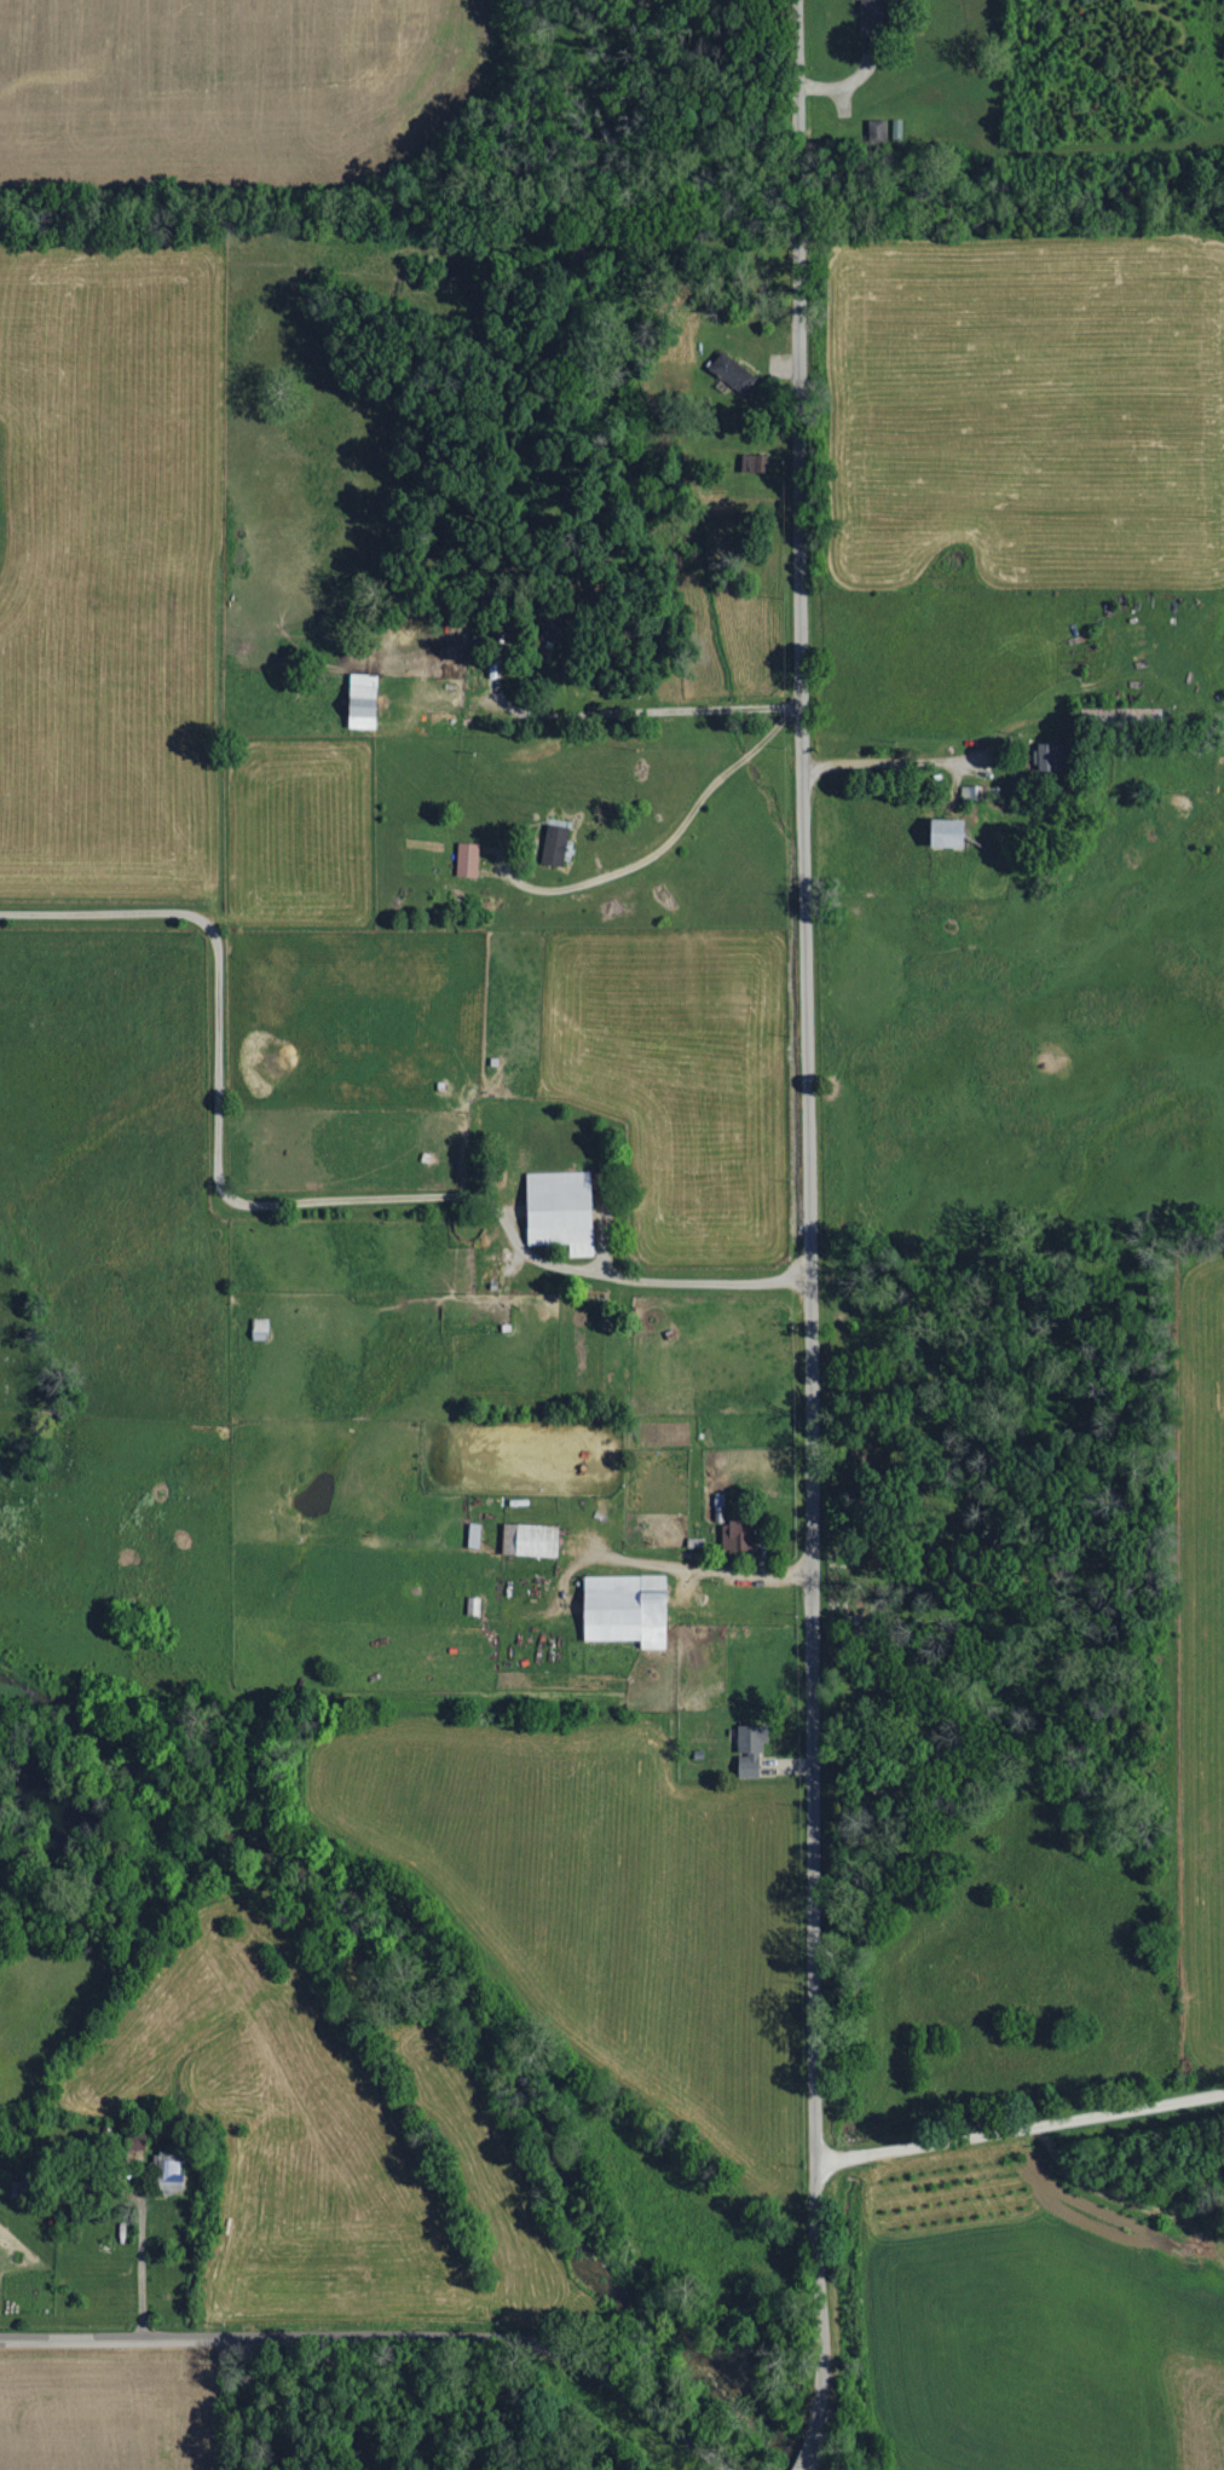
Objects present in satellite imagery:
building: (870, 2)
building: (870, 25)
building: (734, 373)
building: (755, 463)
building: (364, 703)
road: (619, 708)
building: (1124, 716)
building: (1051, 757)
road: (907, 760)
building: (972, 793)
building: (951, 835)
building: (556, 846)
building: (468, 860)
road: (806, 1078)
building: (562, 1210)
building: (720, 1507)
building: (474, 1535)
building: (739, 1535)
building: (531, 1540)
building: (474, 1606)
building: (628, 1609)
building: (751, 1749)
road: (1020, 2122)
building: (171, 2171)
road: (818, 2297)
road: (381, 2337)
road: (804, 2453)

